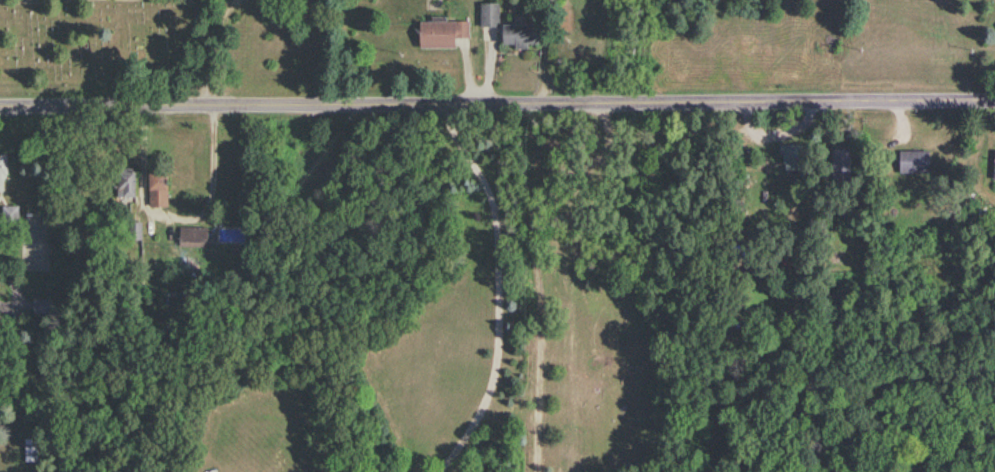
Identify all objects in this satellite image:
road: (65, 1)
building: (490, 17)
building: (443, 35)
building: (520, 37)
park: (164, 46)
road: (209, 49)
road: (497, 105)
building: (796, 159)
building: (842, 163)
building: (915, 164)
building: (3, 176)
building: (994, 176)
building: (127, 186)
building: (160, 189)
road: (537, 218)
road: (176, 222)
building: (194, 239)
road: (498, 288)
building: (44, 308)
building: (32, 451)

